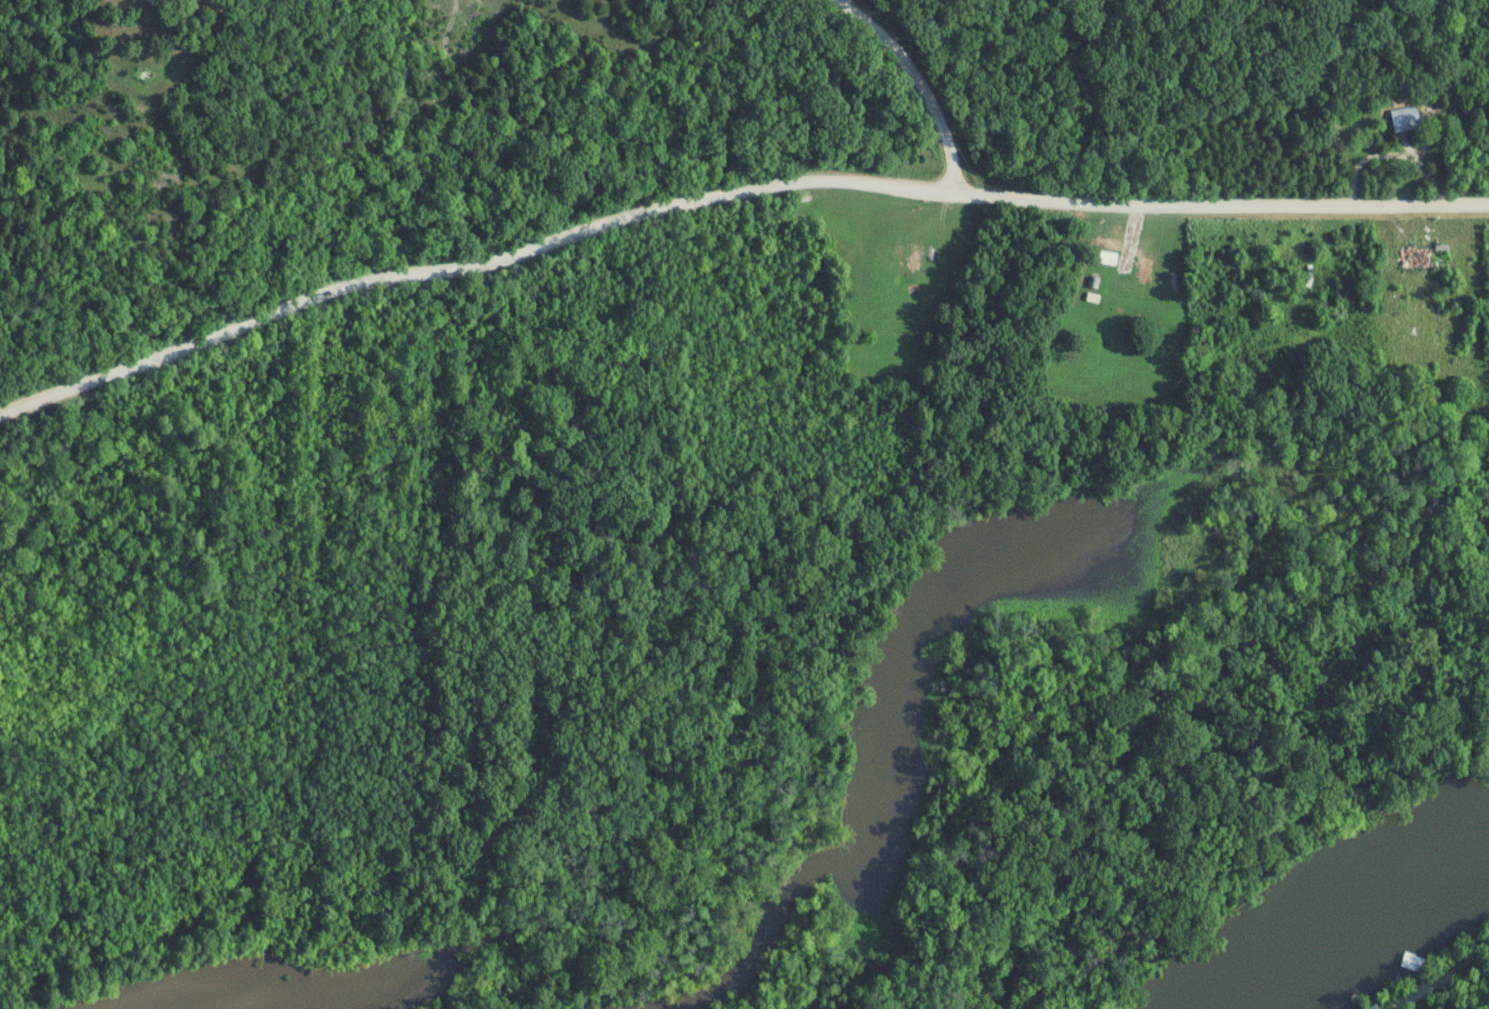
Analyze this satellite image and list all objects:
road: (919, 83)
building: (1406, 120)
road: (728, 194)
building: (918, 256)
building: (1106, 258)
building: (1450, 272)
building: (1093, 299)
building: (1200, 364)
river: (1373, 939)

